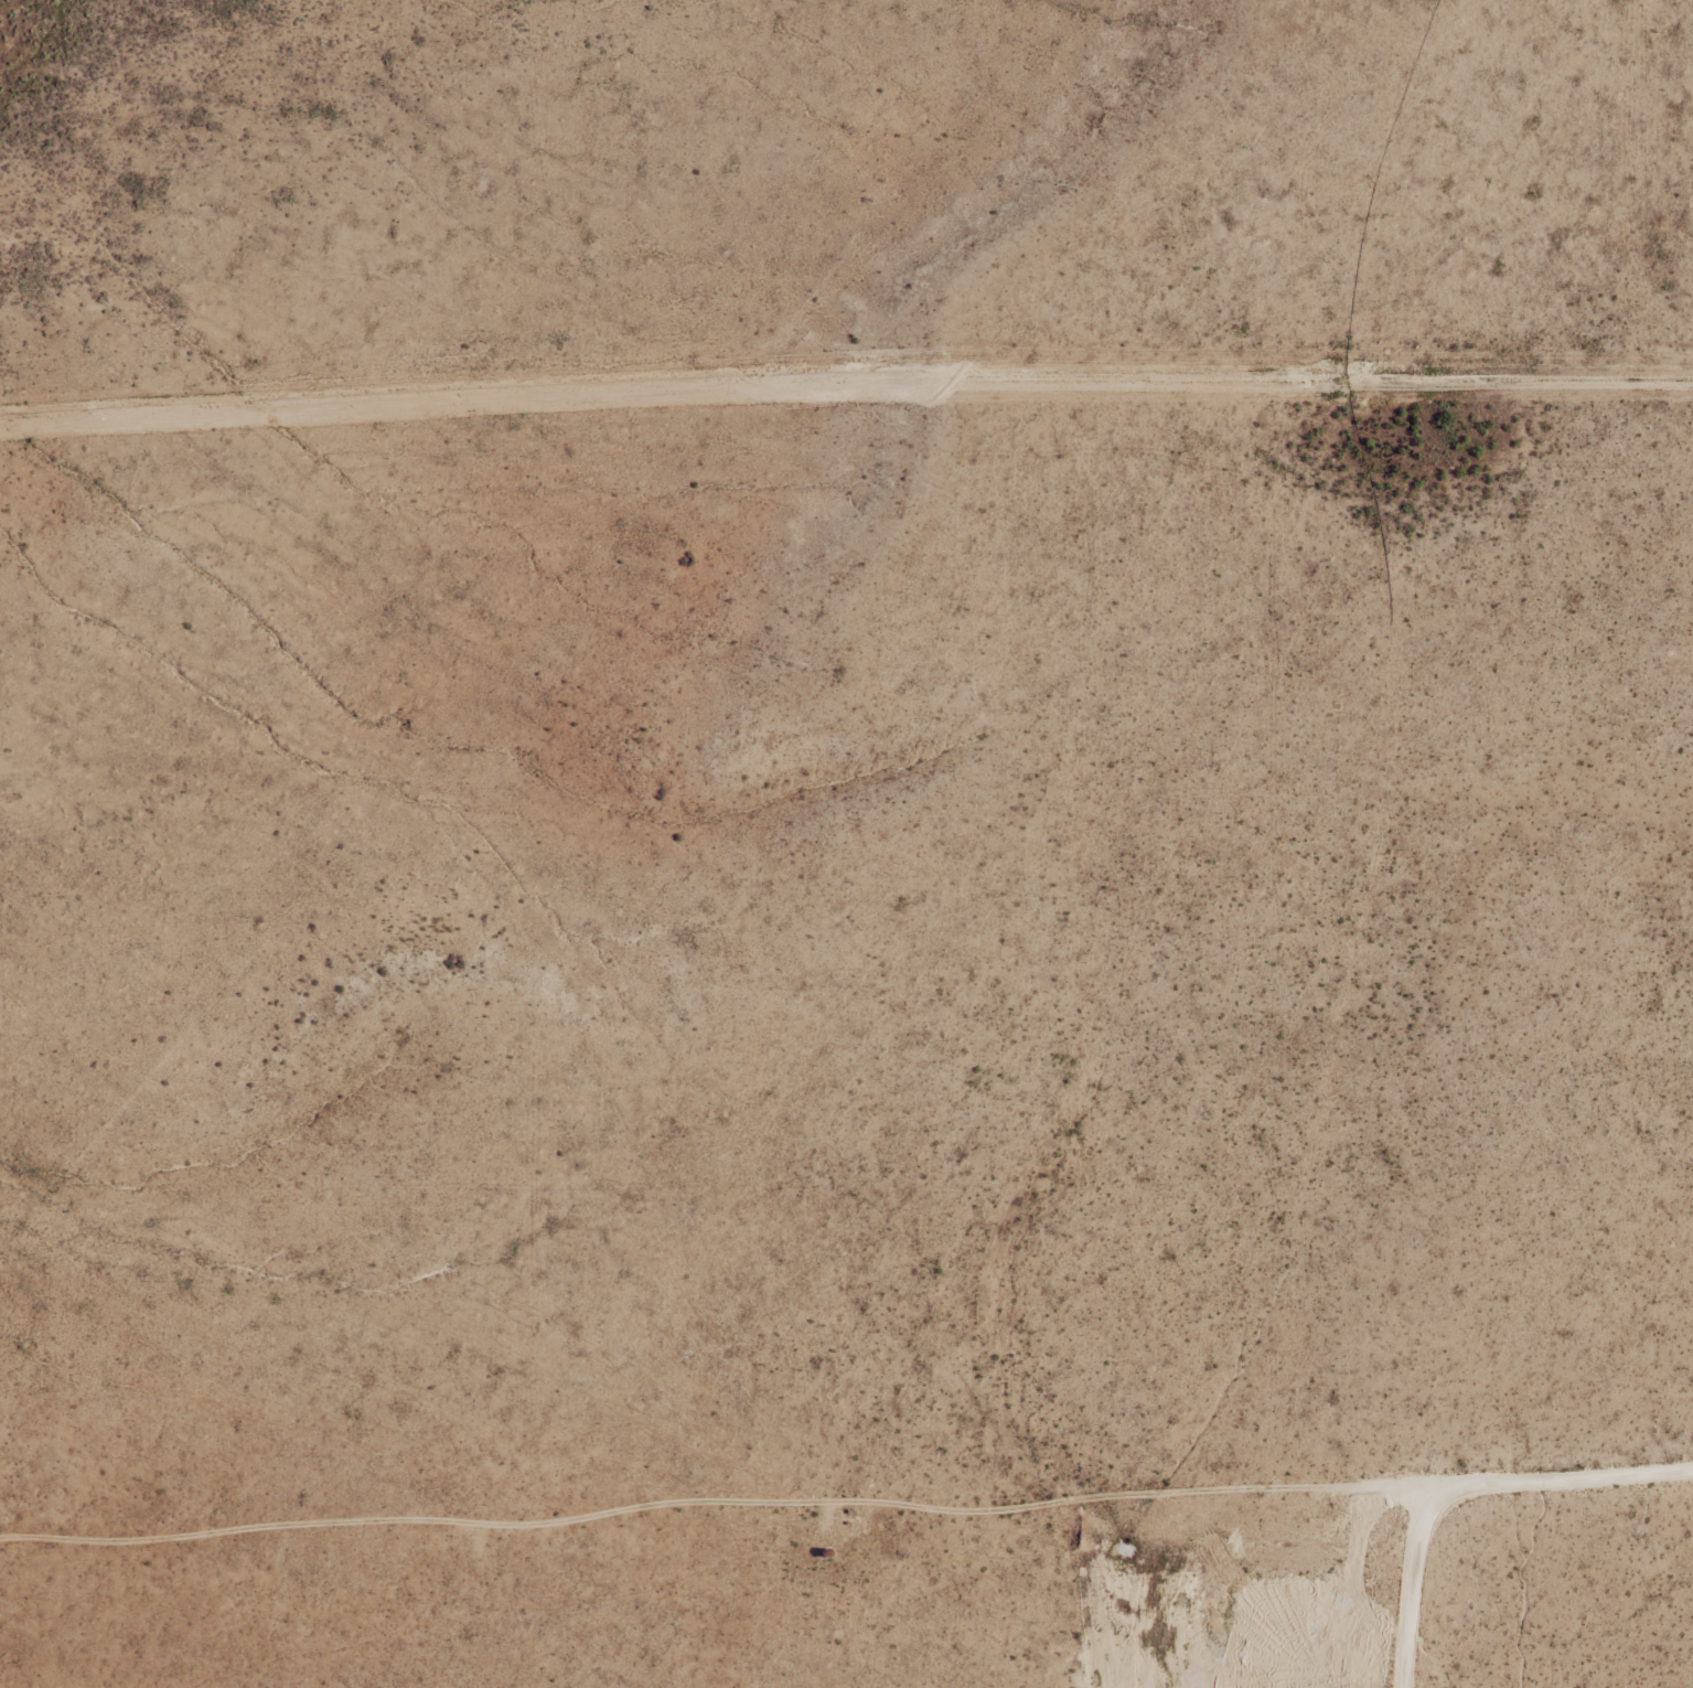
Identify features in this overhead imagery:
road: (1558, 1478)
road: (1411, 1589)

